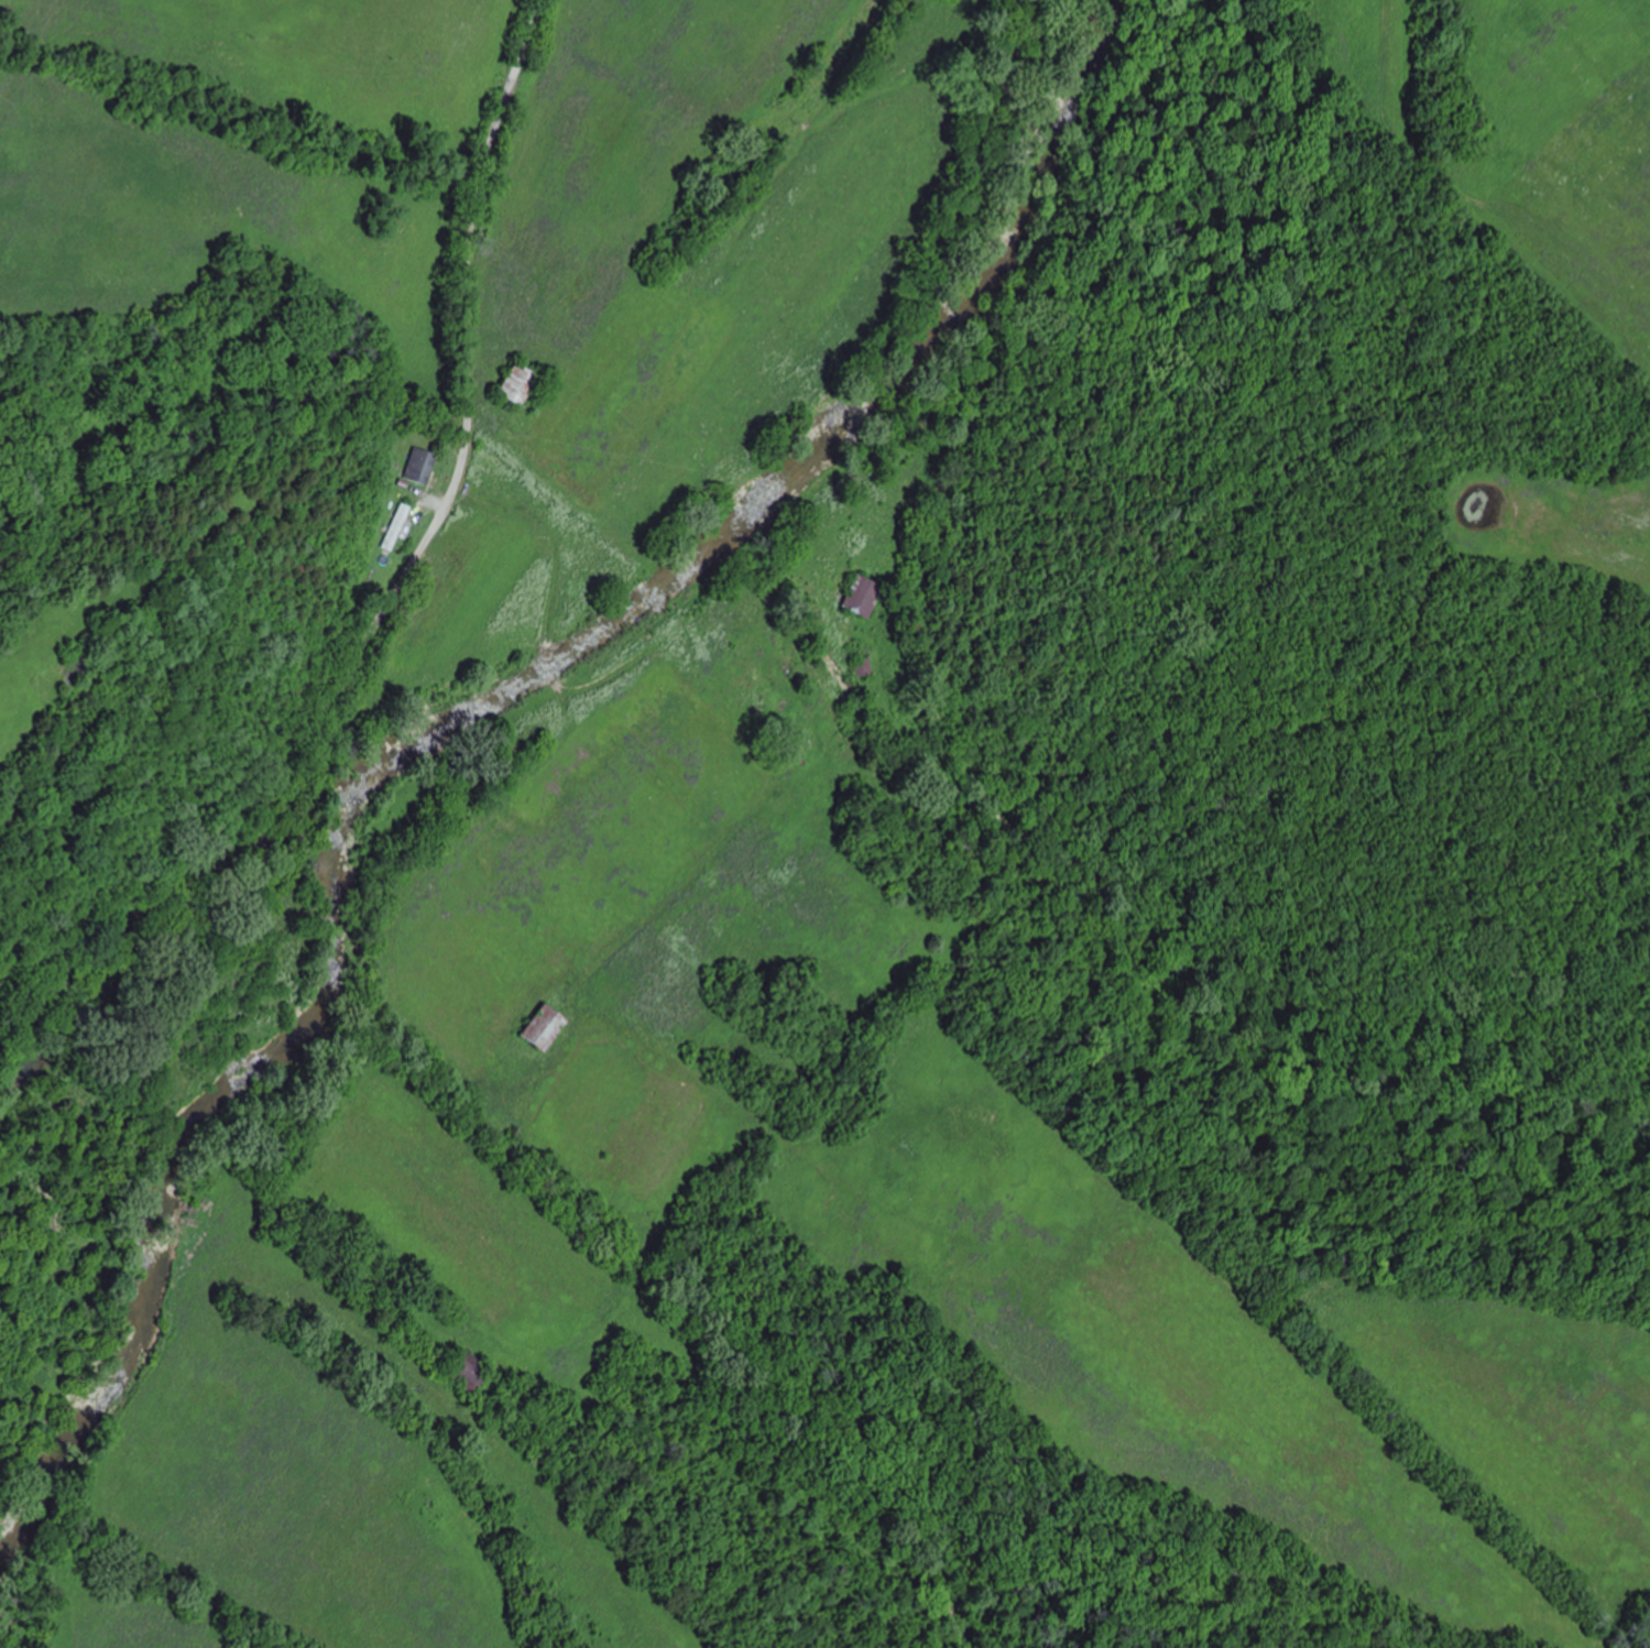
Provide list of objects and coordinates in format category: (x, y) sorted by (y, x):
building: (522, 383)
building: (422, 465)
road: (579, 472)
building: (398, 525)
road: (791, 575)
road: (401, 580)
building: (864, 593)
building: (865, 668)
building: (547, 1026)
road: (259, 1218)
building: (469, 1369)

